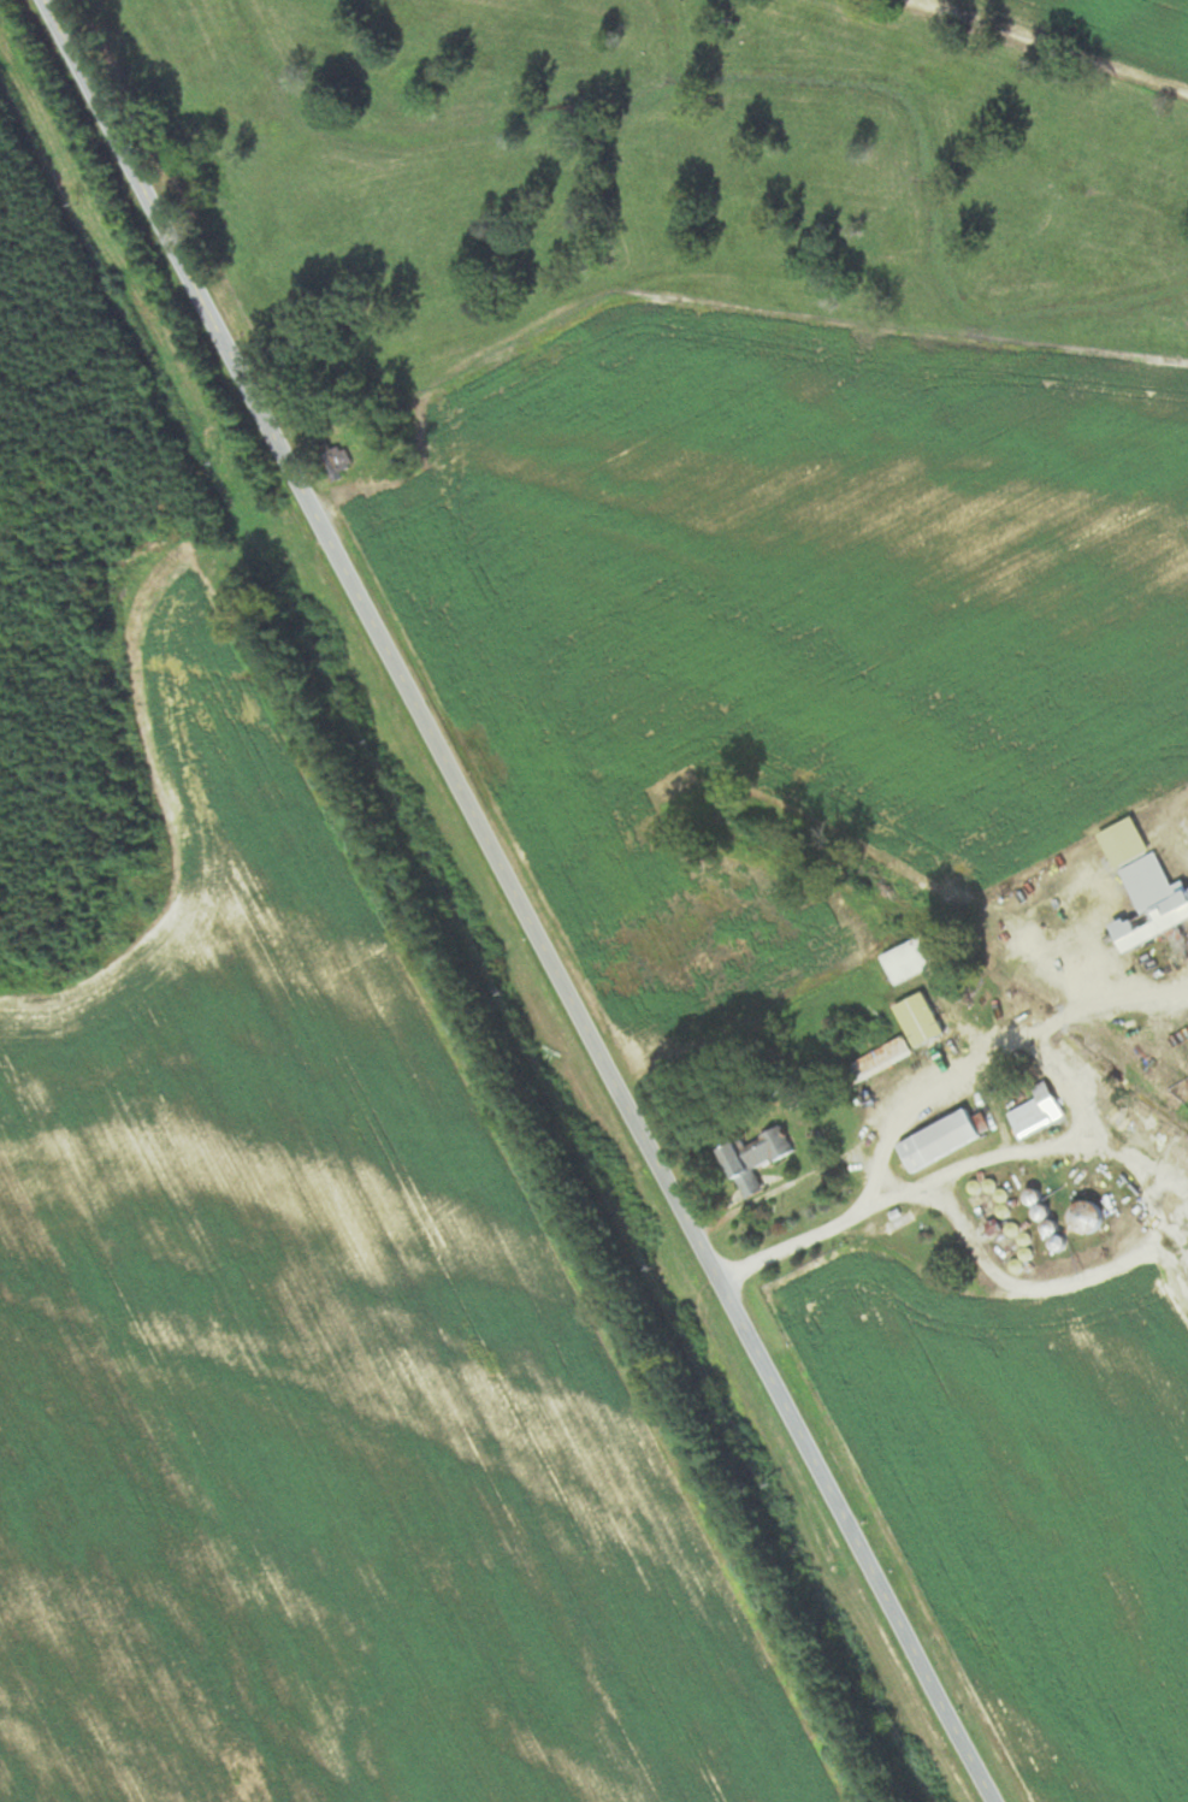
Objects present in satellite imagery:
road: (1045, 46)
road: (519, 900)
road: (1016, 1153)

